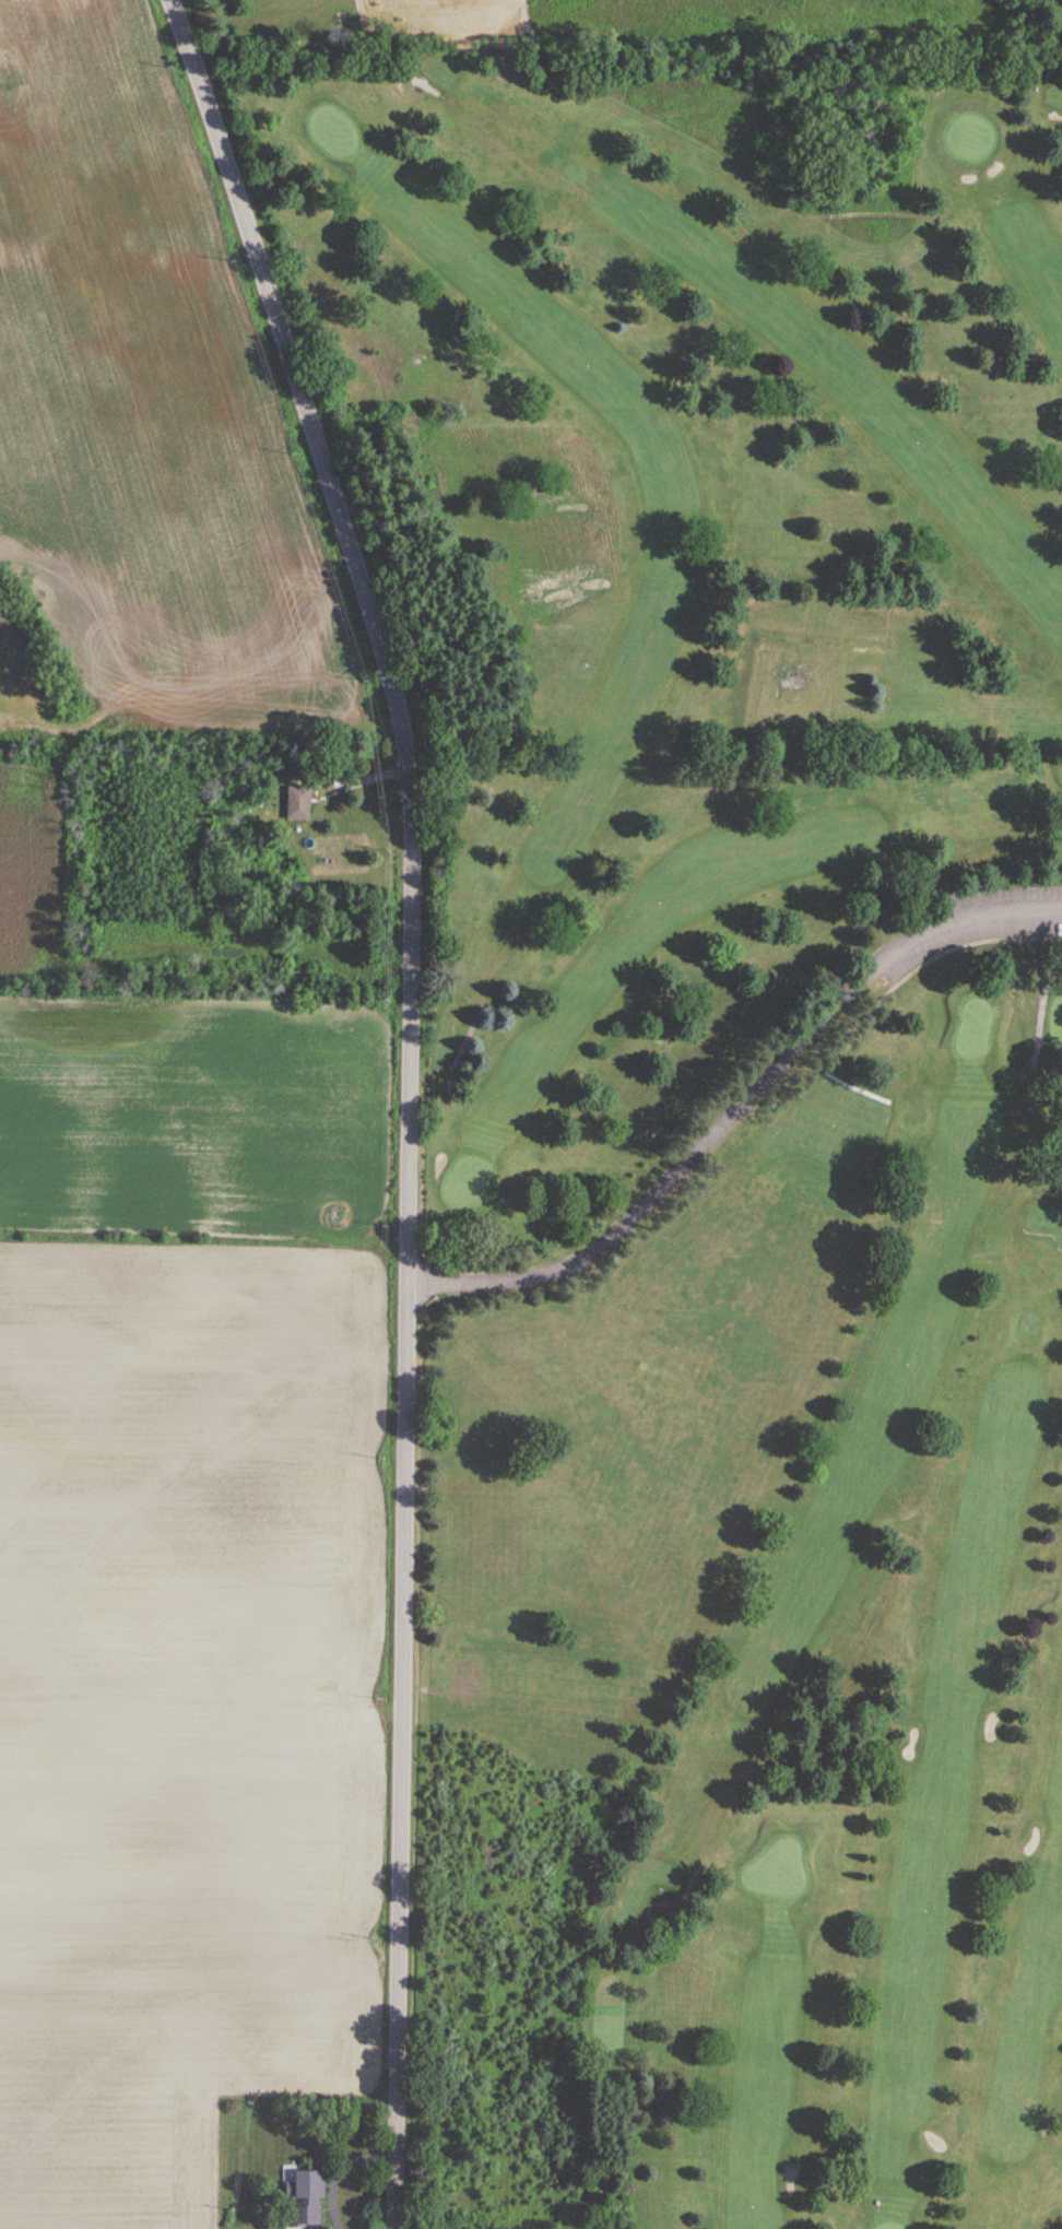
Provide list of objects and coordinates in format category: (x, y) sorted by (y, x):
building: (296, 802)
park: (764, 1073)
road: (408, 1095)
road: (739, 1108)
building: (338, 1216)
building: (305, 2199)

